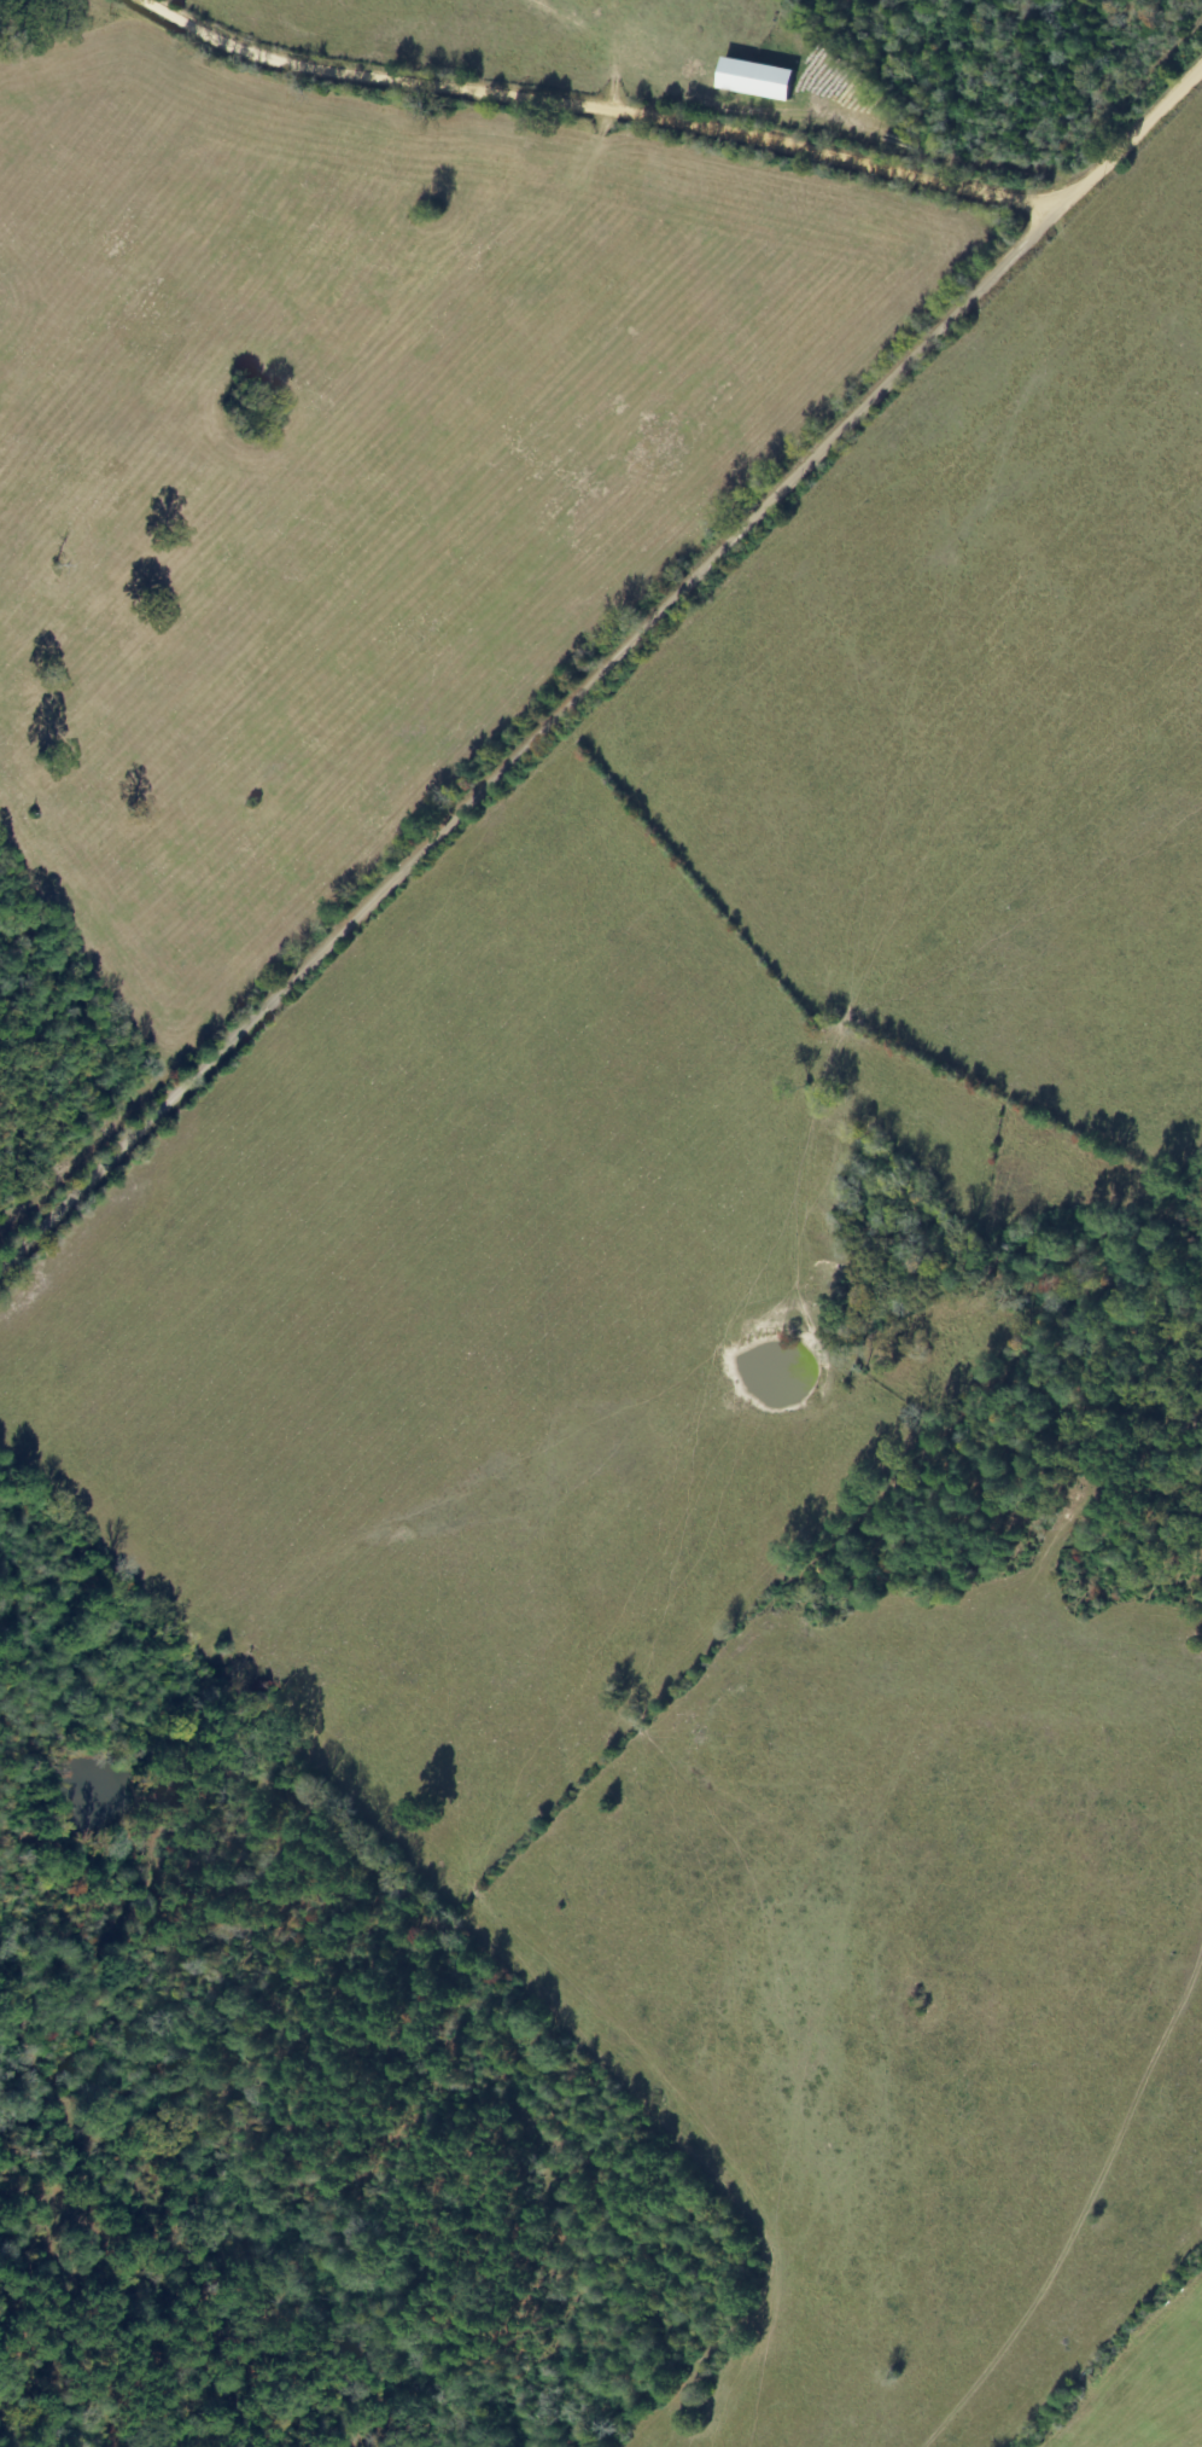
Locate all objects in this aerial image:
building: (754, 81)
road: (596, 111)
road: (1131, 136)
road: (530, 730)

